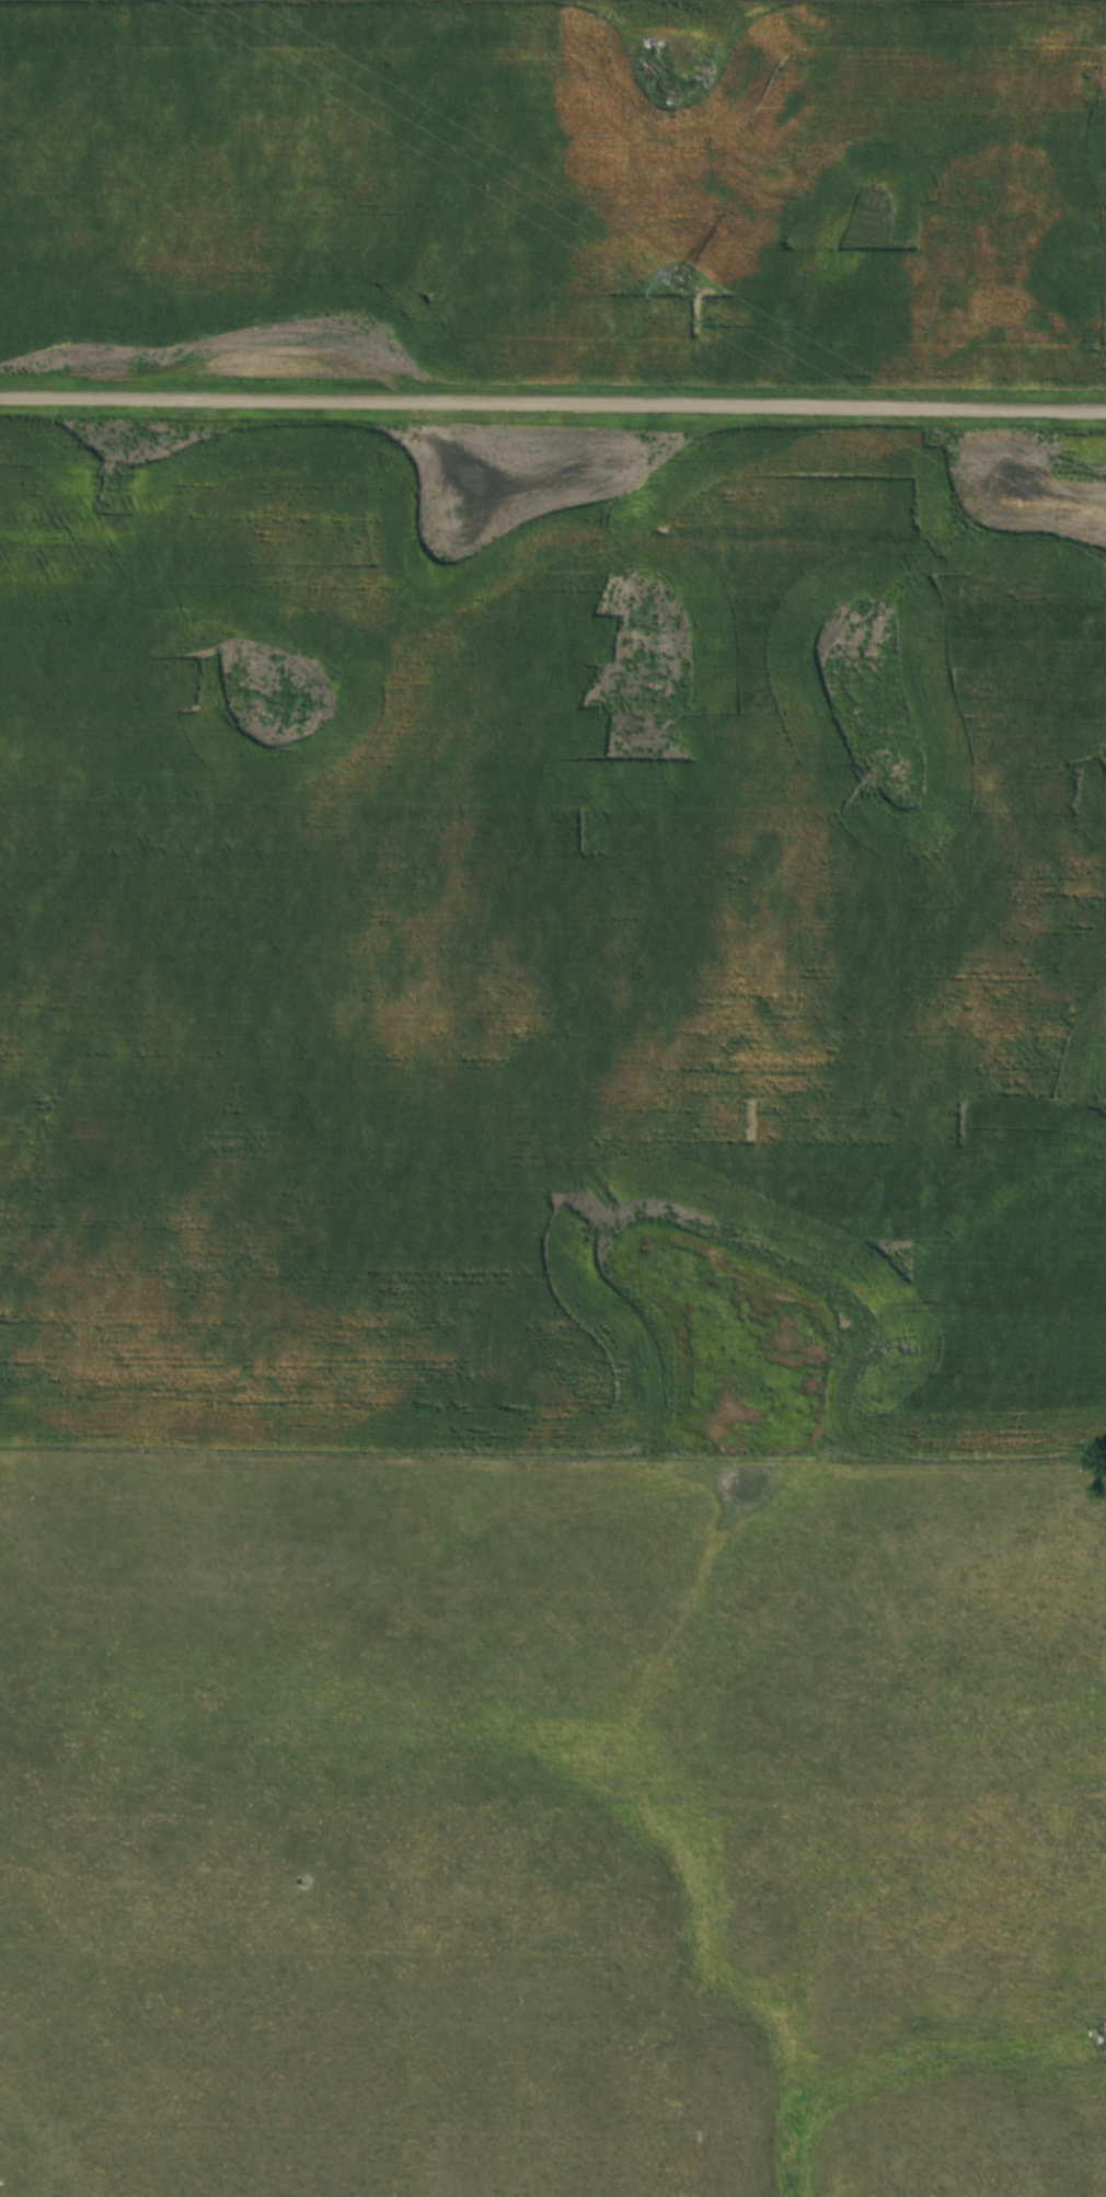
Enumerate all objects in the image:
power tower: (676, 274)
road: (553, 402)

